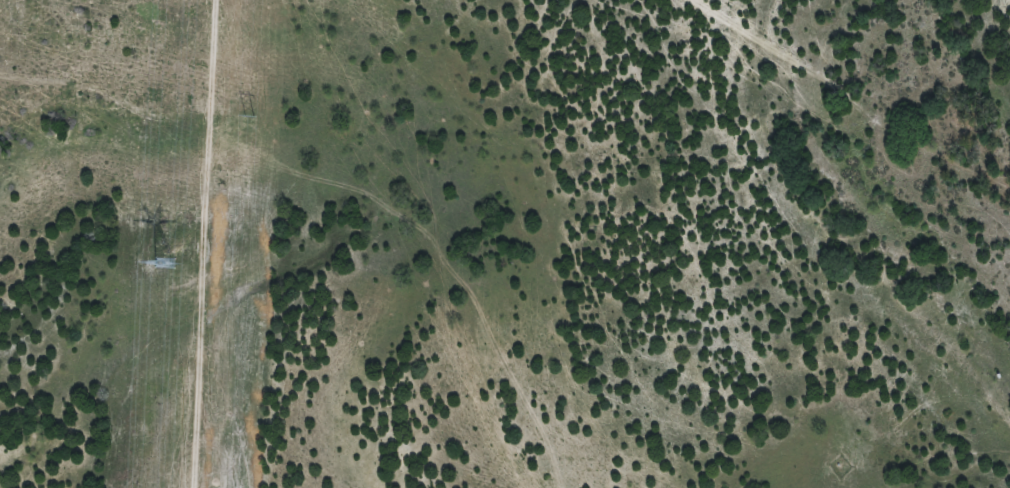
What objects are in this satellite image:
power tower: (248, 115)
power tower: (163, 262)

